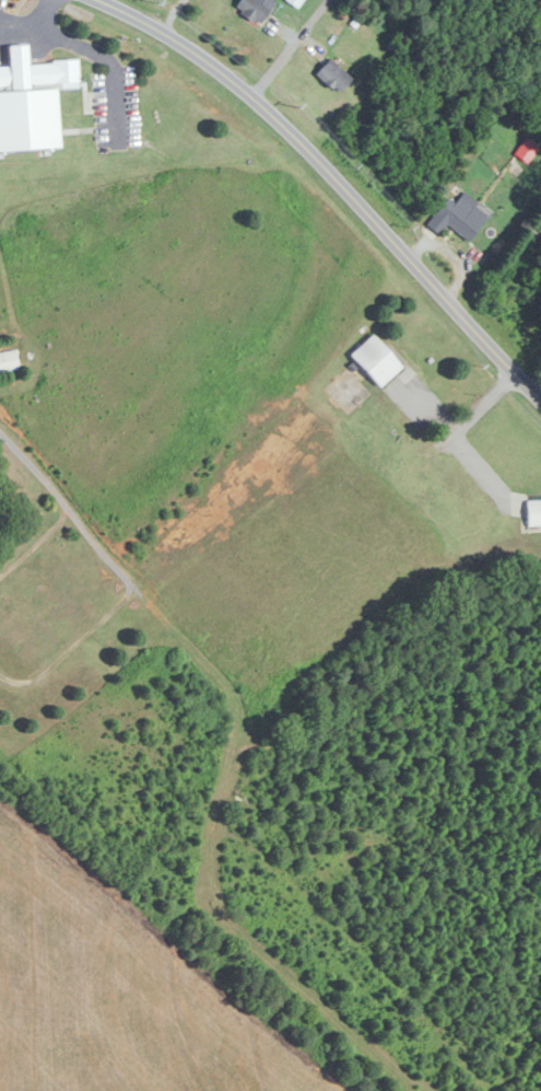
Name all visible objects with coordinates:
building: (254, 10)
road: (170, 16)
road: (28, 20)
road: (287, 49)
road: (108, 57)
building: (333, 76)
building: (31, 101)
road: (330, 185)
building: (458, 219)
building: (9, 361)
building: (376, 361)
building: (533, 514)

